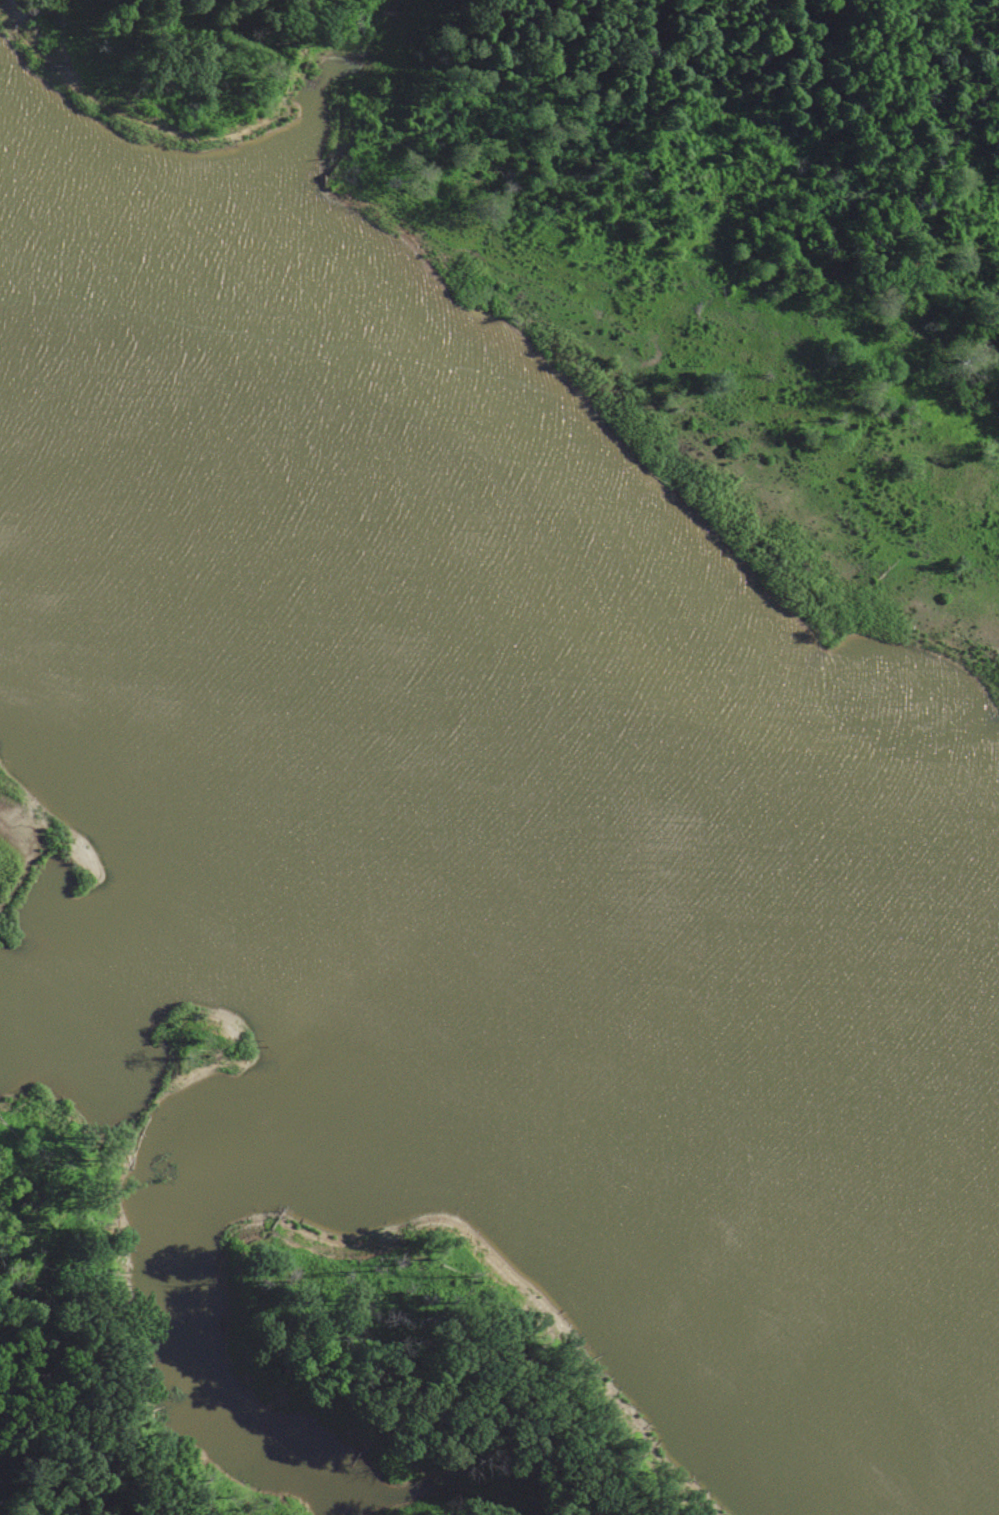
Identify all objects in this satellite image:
river: (489, 856)

